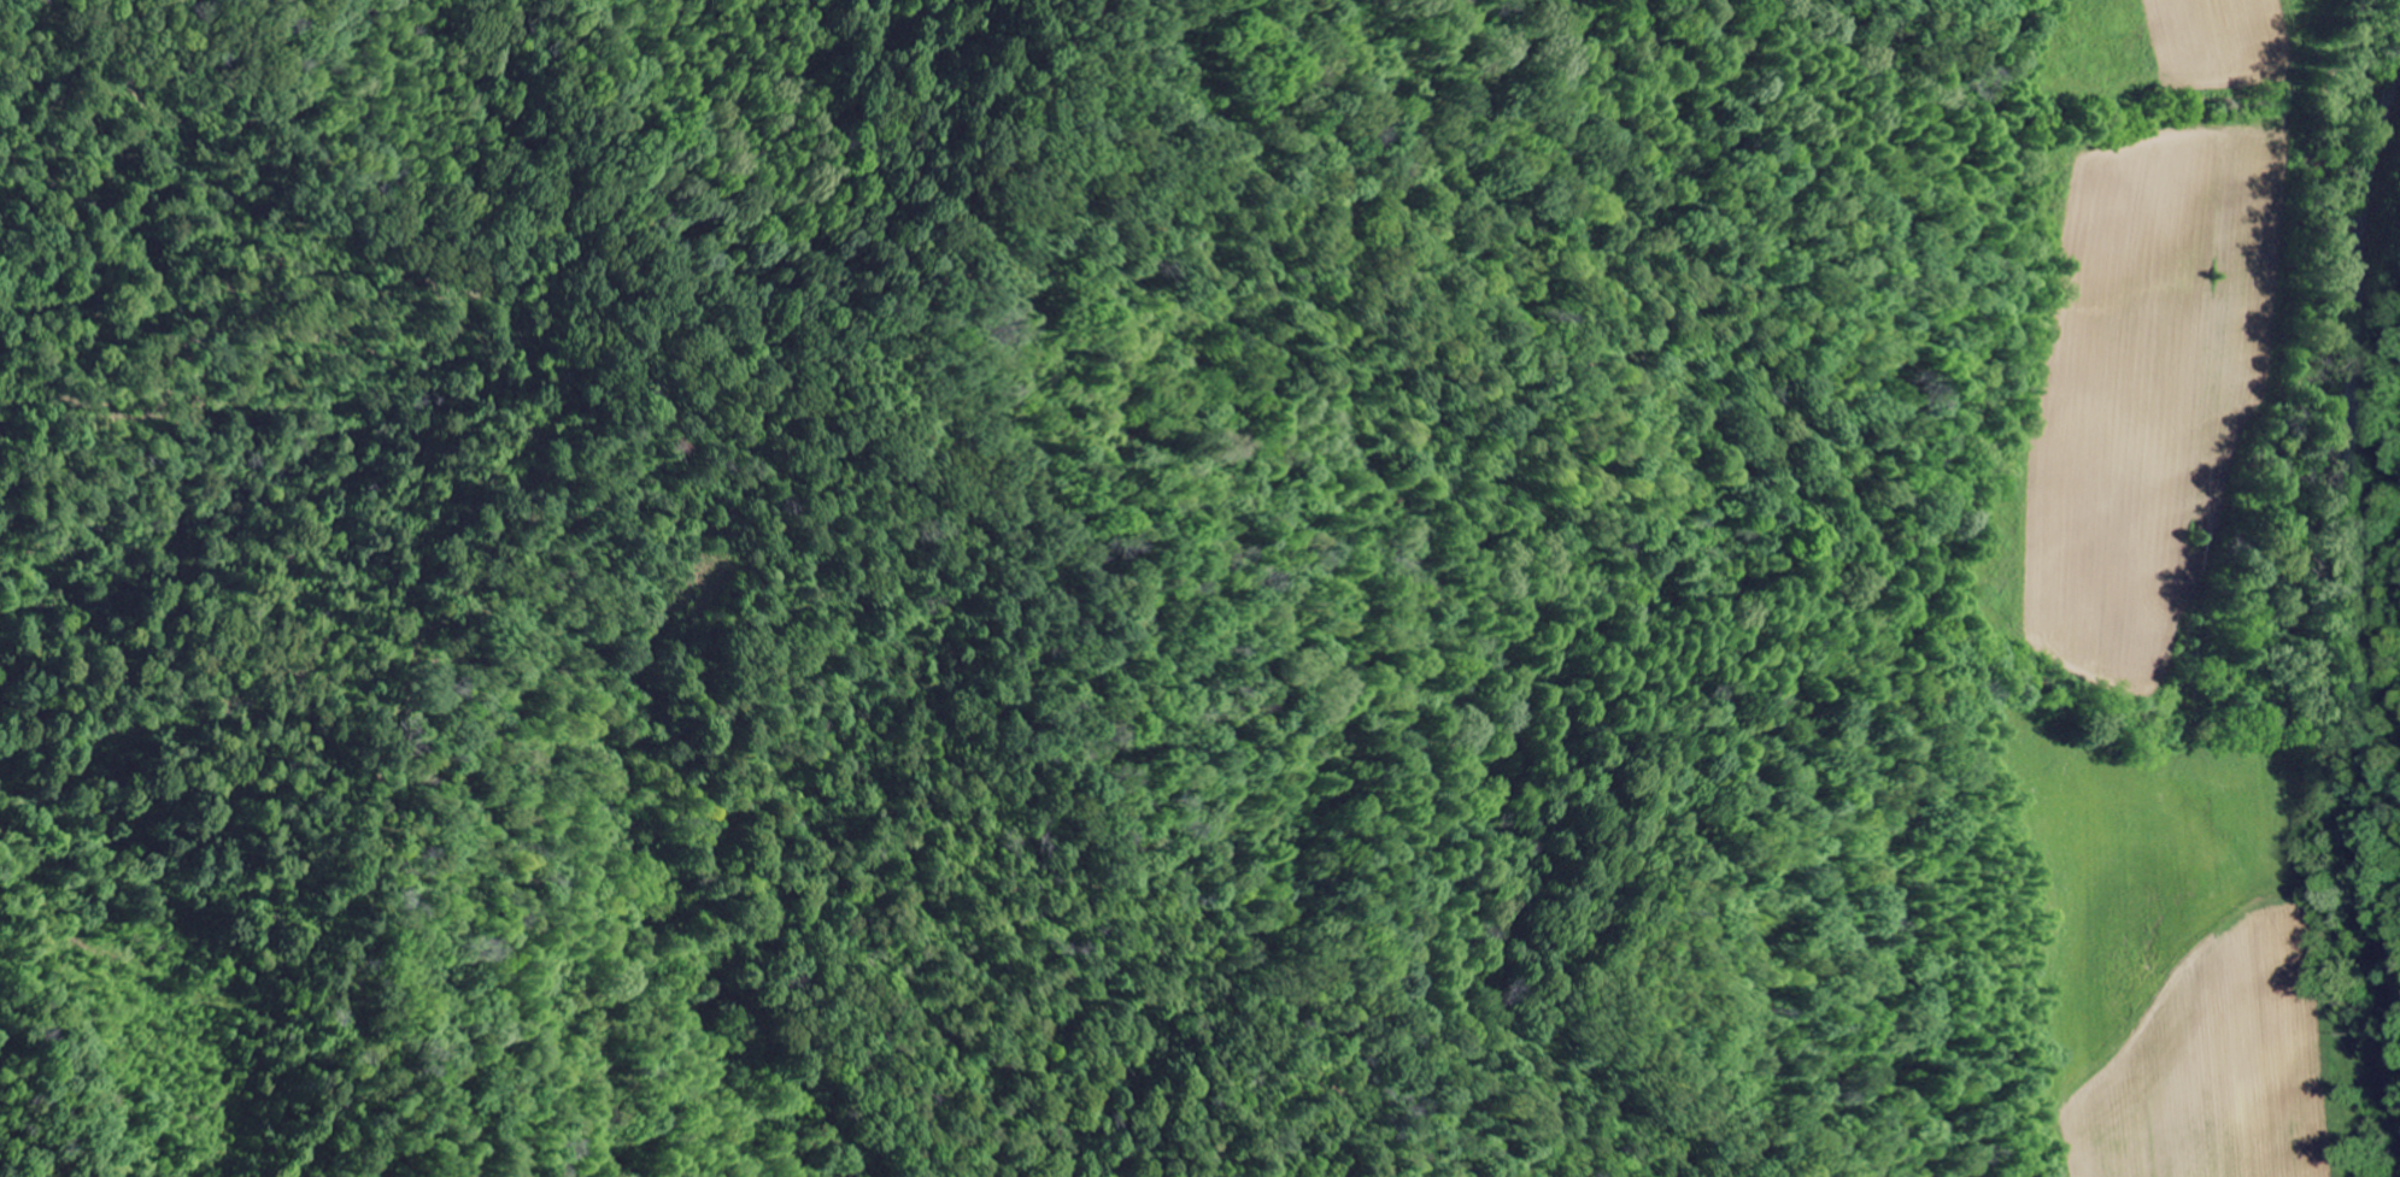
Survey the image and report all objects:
road: (2353, 524)

